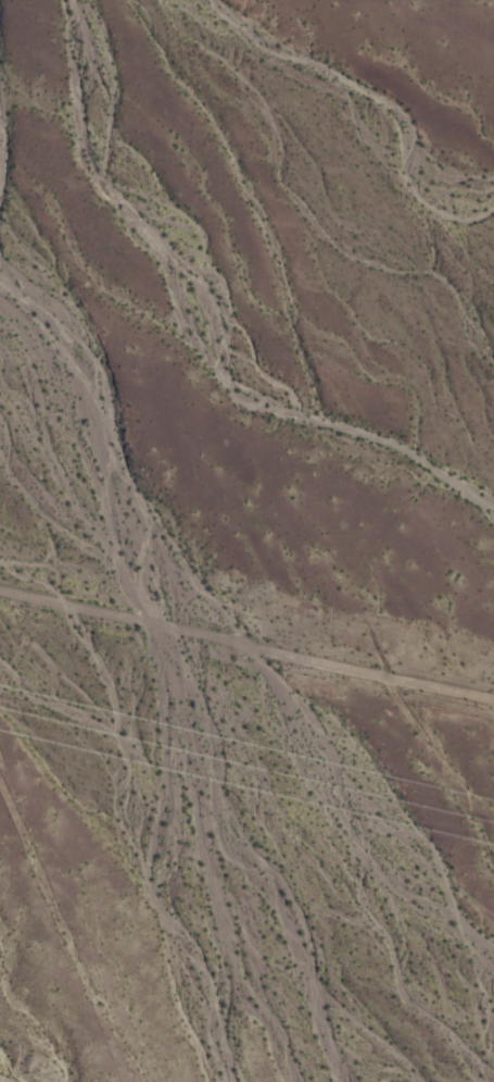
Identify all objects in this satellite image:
road: (246, 636)

